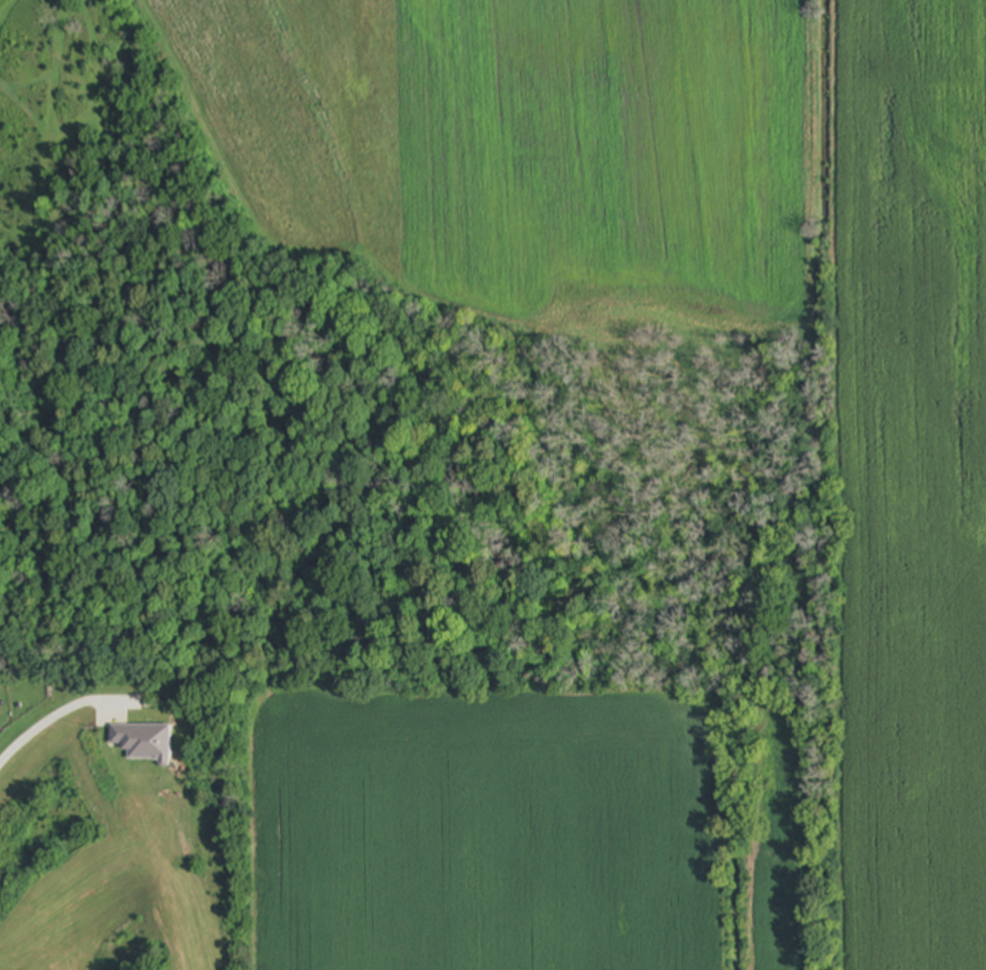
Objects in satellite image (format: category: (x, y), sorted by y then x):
road: (43, 721)
building: (143, 742)

